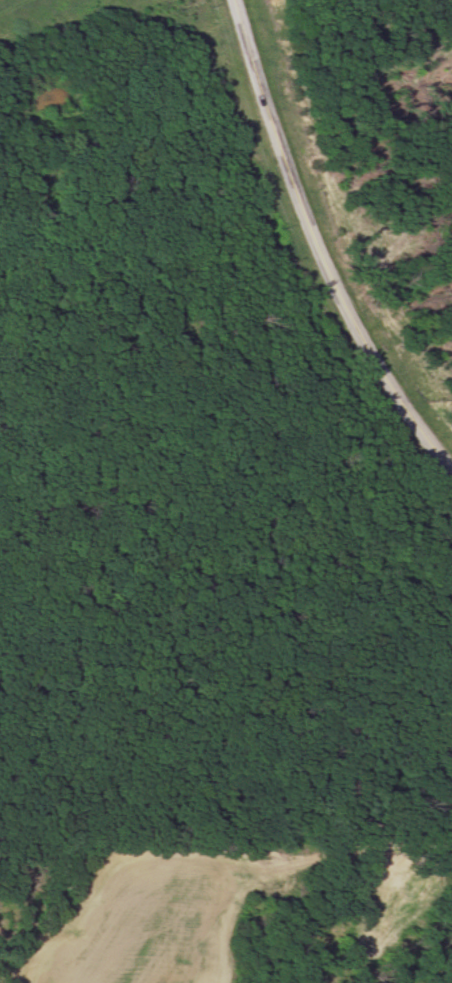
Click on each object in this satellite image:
road: (320, 241)

